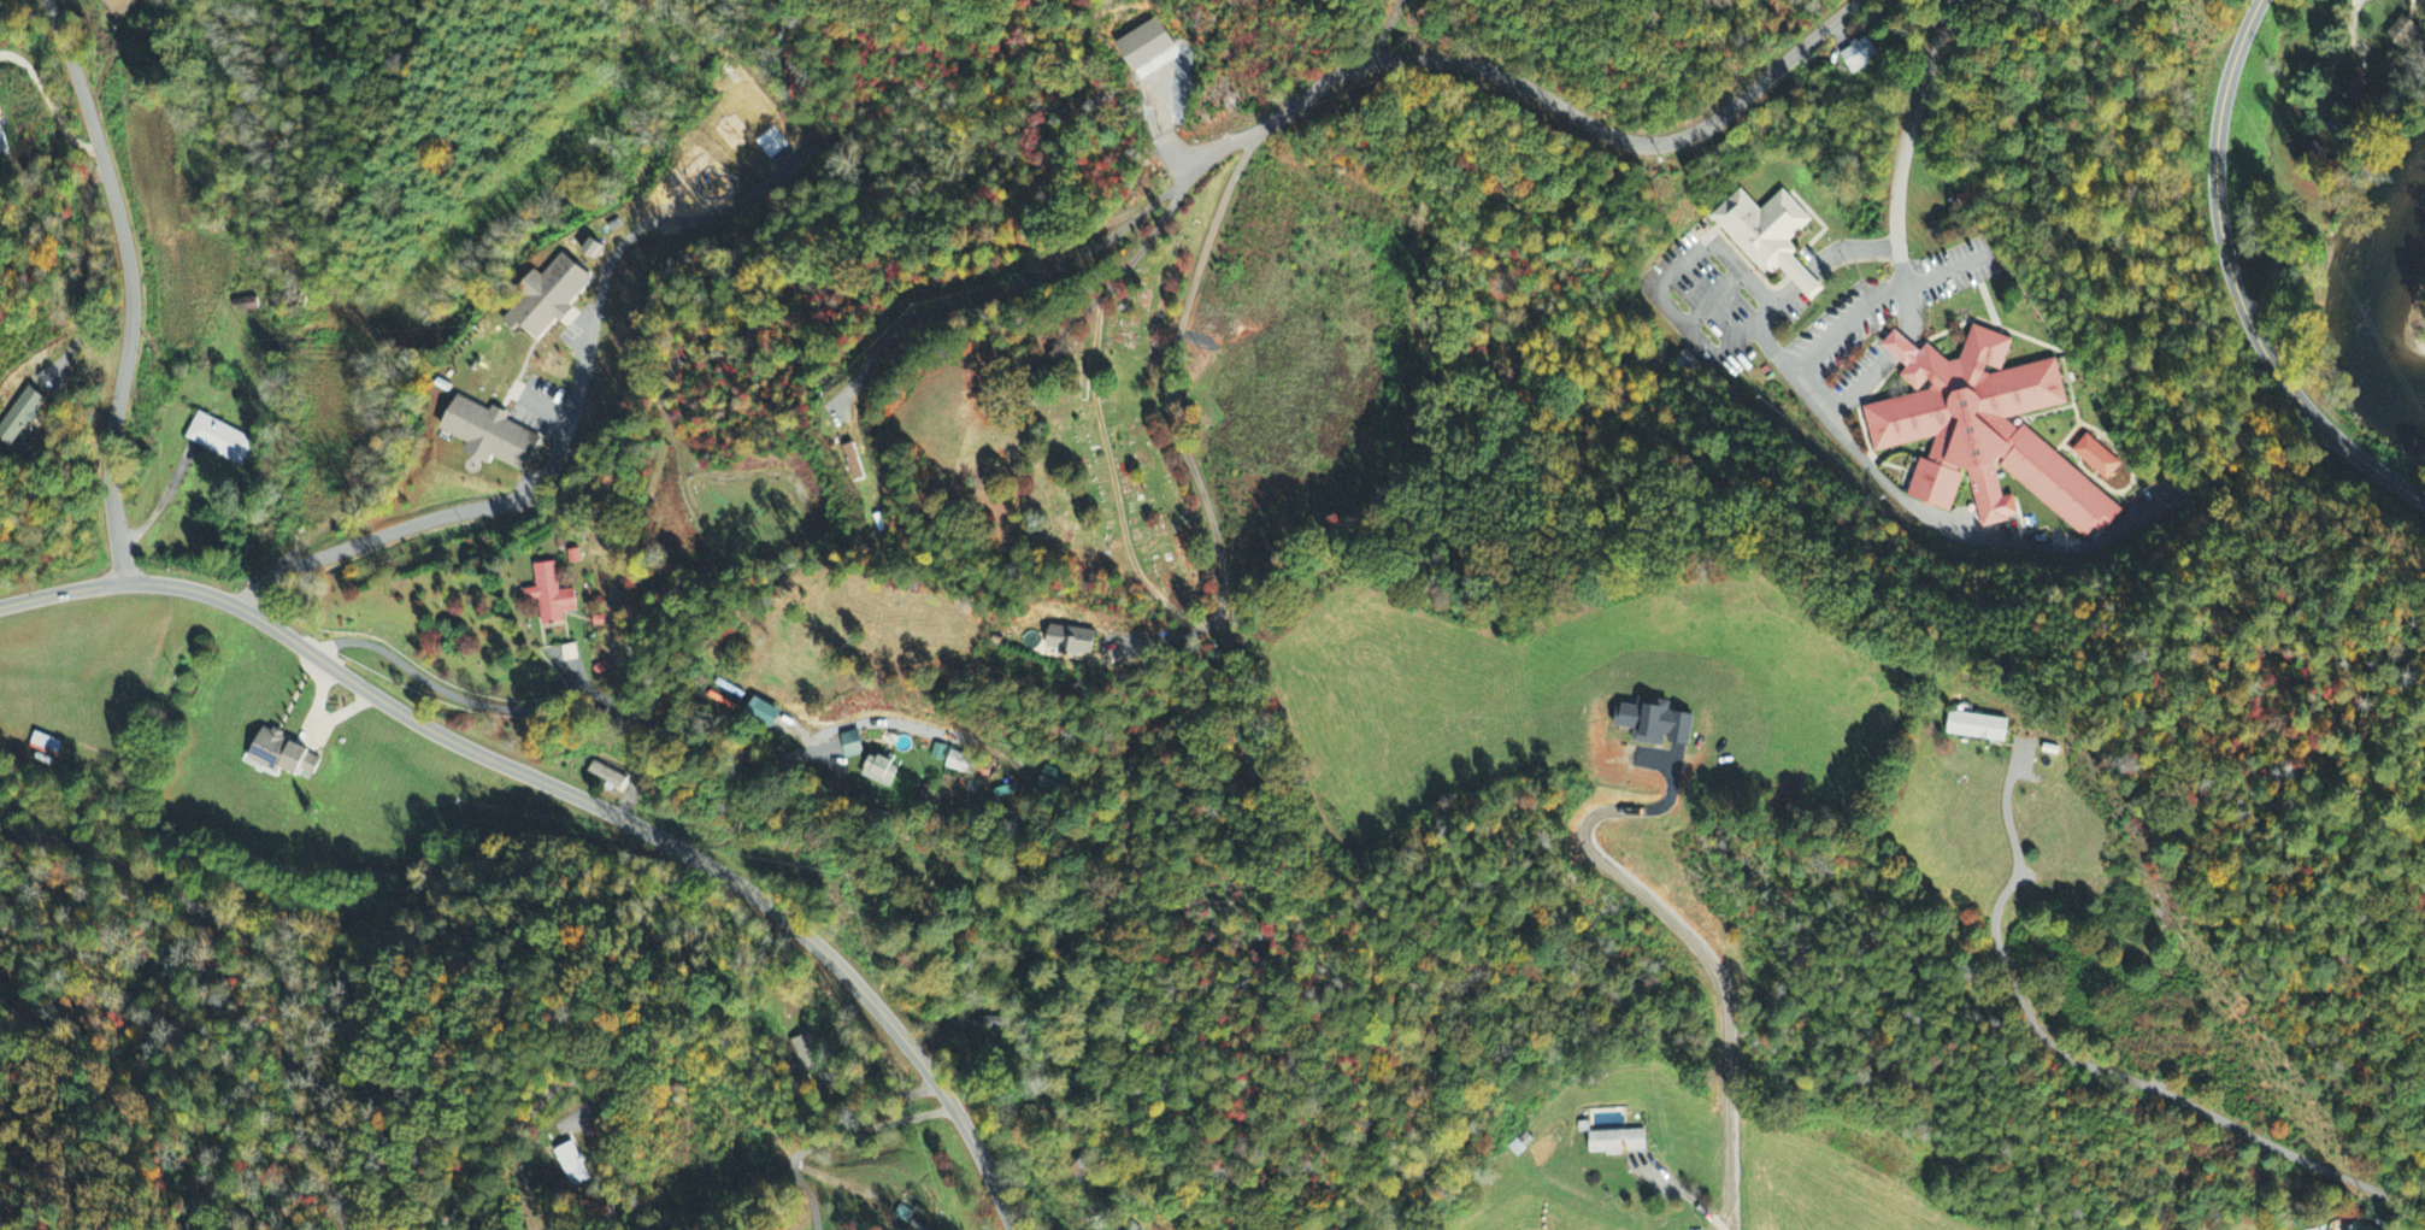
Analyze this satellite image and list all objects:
road: (1390, 28)
building: (2405, 33)
building: (1146, 46)
building: (1858, 52)
building: (2355, 90)
road: (1564, 110)
road: (1901, 146)
river: (2392, 224)
building: (1767, 231)
building: (591, 251)
road: (1026, 269)
road: (2233, 286)
road: (131, 287)
building: (546, 299)
river: (2376, 345)
road: (1169, 376)
building: (19, 418)
building: (1987, 429)
park: (1069, 431)
building: (492, 436)
building: (219, 441)
building: (2099, 452)
road: (160, 501)
road: (387, 537)
building: (549, 596)
building: (1071, 642)
road: (438, 688)
building: (763, 716)
building: (1655, 724)
building: (1978, 729)
building: (45, 747)
building: (852, 747)
building: (283, 757)
building: (959, 764)
building: (881, 772)
building: (605, 777)
building: (1050, 782)
road: (573, 798)
road: (269, 949)
park: (341, 1005)
building: (977, 1026)
road: (2148, 1088)
road: (507, 1132)
building: (1619, 1138)
building: (572, 1166)
road: (1687, 1193)
building: (2354, 1229)

